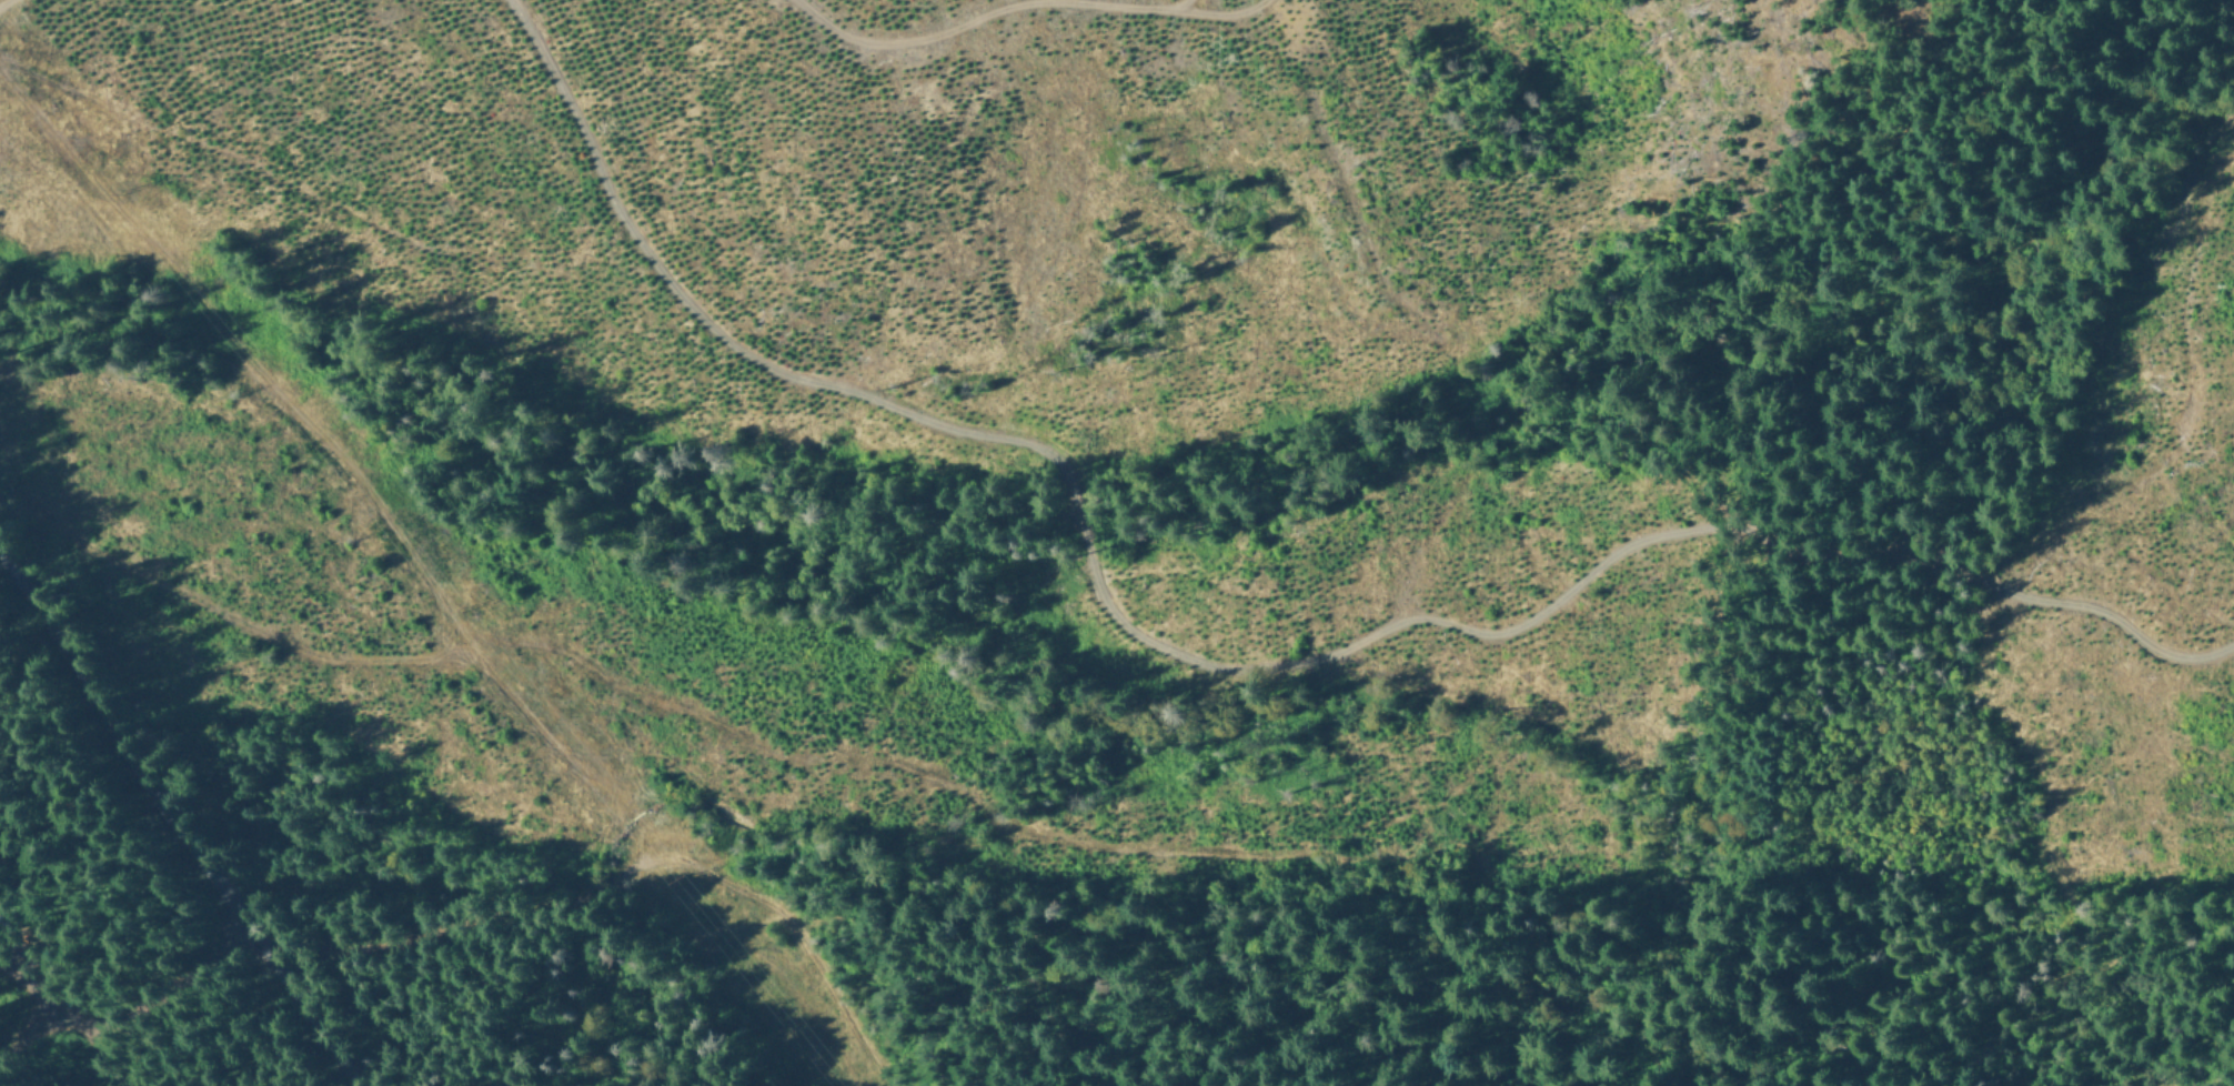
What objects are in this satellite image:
road: (165, 818)
road: (789, 908)
parking lot: (241, 941)
road: (2092, 968)
road: (1490, 1063)

